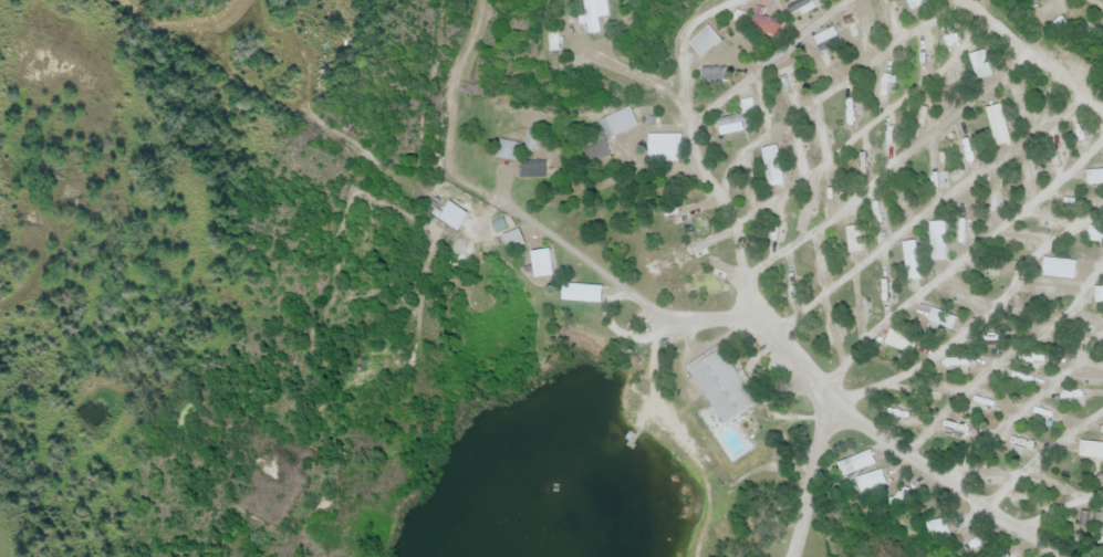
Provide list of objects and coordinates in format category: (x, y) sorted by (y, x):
building: (915, 3)
building: (800, 8)
building: (595, 14)
building: (865, 32)
building: (824, 36)
building: (705, 42)
road: (1033, 53)
building: (922, 61)
road: (767, 62)
building: (980, 66)
building: (714, 76)
building: (882, 86)
road: (830, 91)
building: (1019, 103)
building: (617, 124)
building: (730, 125)
road: (856, 126)
building: (665, 148)
road: (693, 149)
building: (508, 151)
building: (597, 153)
road: (885, 165)
building: (772, 166)
building: (533, 169)
building: (936, 169)
building: (1095, 177)
road: (928, 216)
building: (854, 239)
building: (513, 240)
building: (937, 241)
road: (959, 261)
building: (542, 263)
building: (1060, 269)
road: (38, 270)
building: (1100, 293)
road: (979, 316)
road: (688, 318)
building: (943, 318)
road: (1002, 355)
building: (722, 385)
road: (1022, 404)
road: (1041, 456)
building: (856, 464)
road: (808, 481)
road: (982, 506)
road: (1065, 511)
building: (1102, 544)

